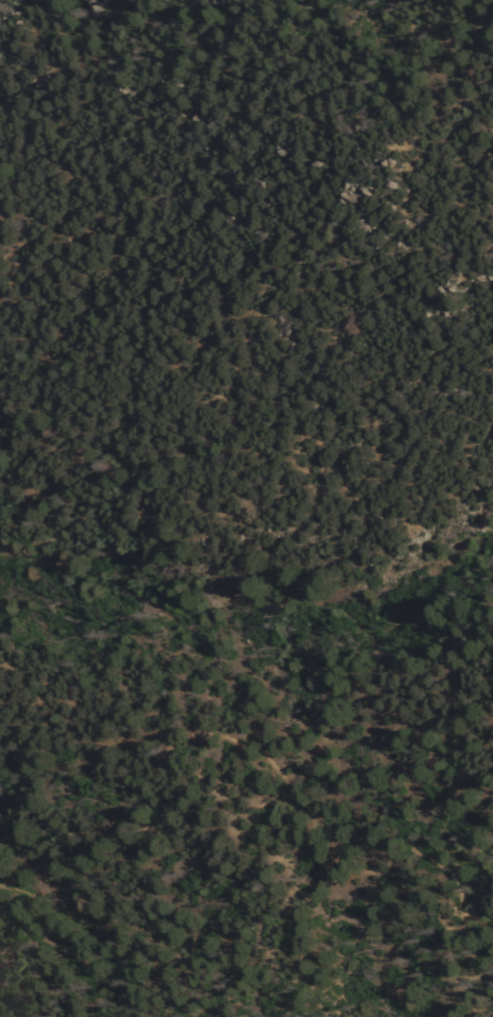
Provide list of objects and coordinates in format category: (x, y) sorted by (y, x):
road: (255, 748)

